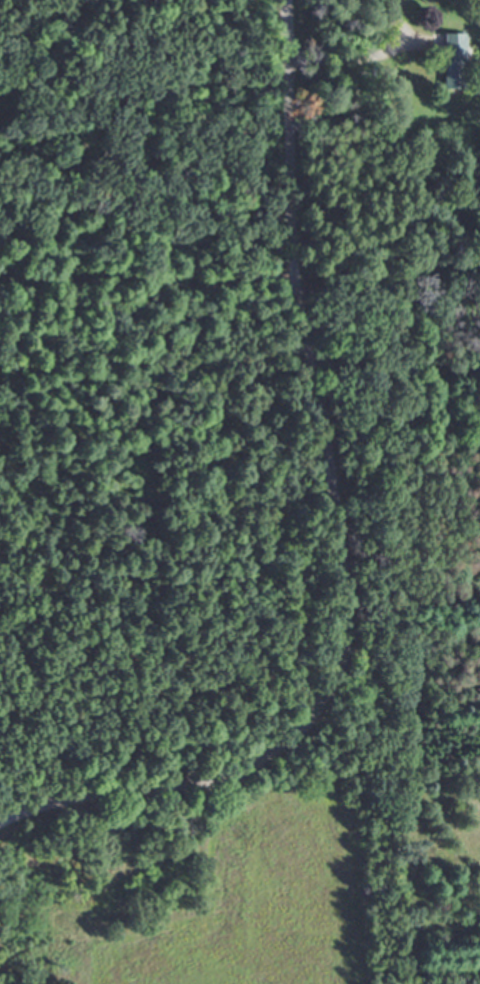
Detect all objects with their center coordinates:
building: (447, 57)
road: (358, 536)

